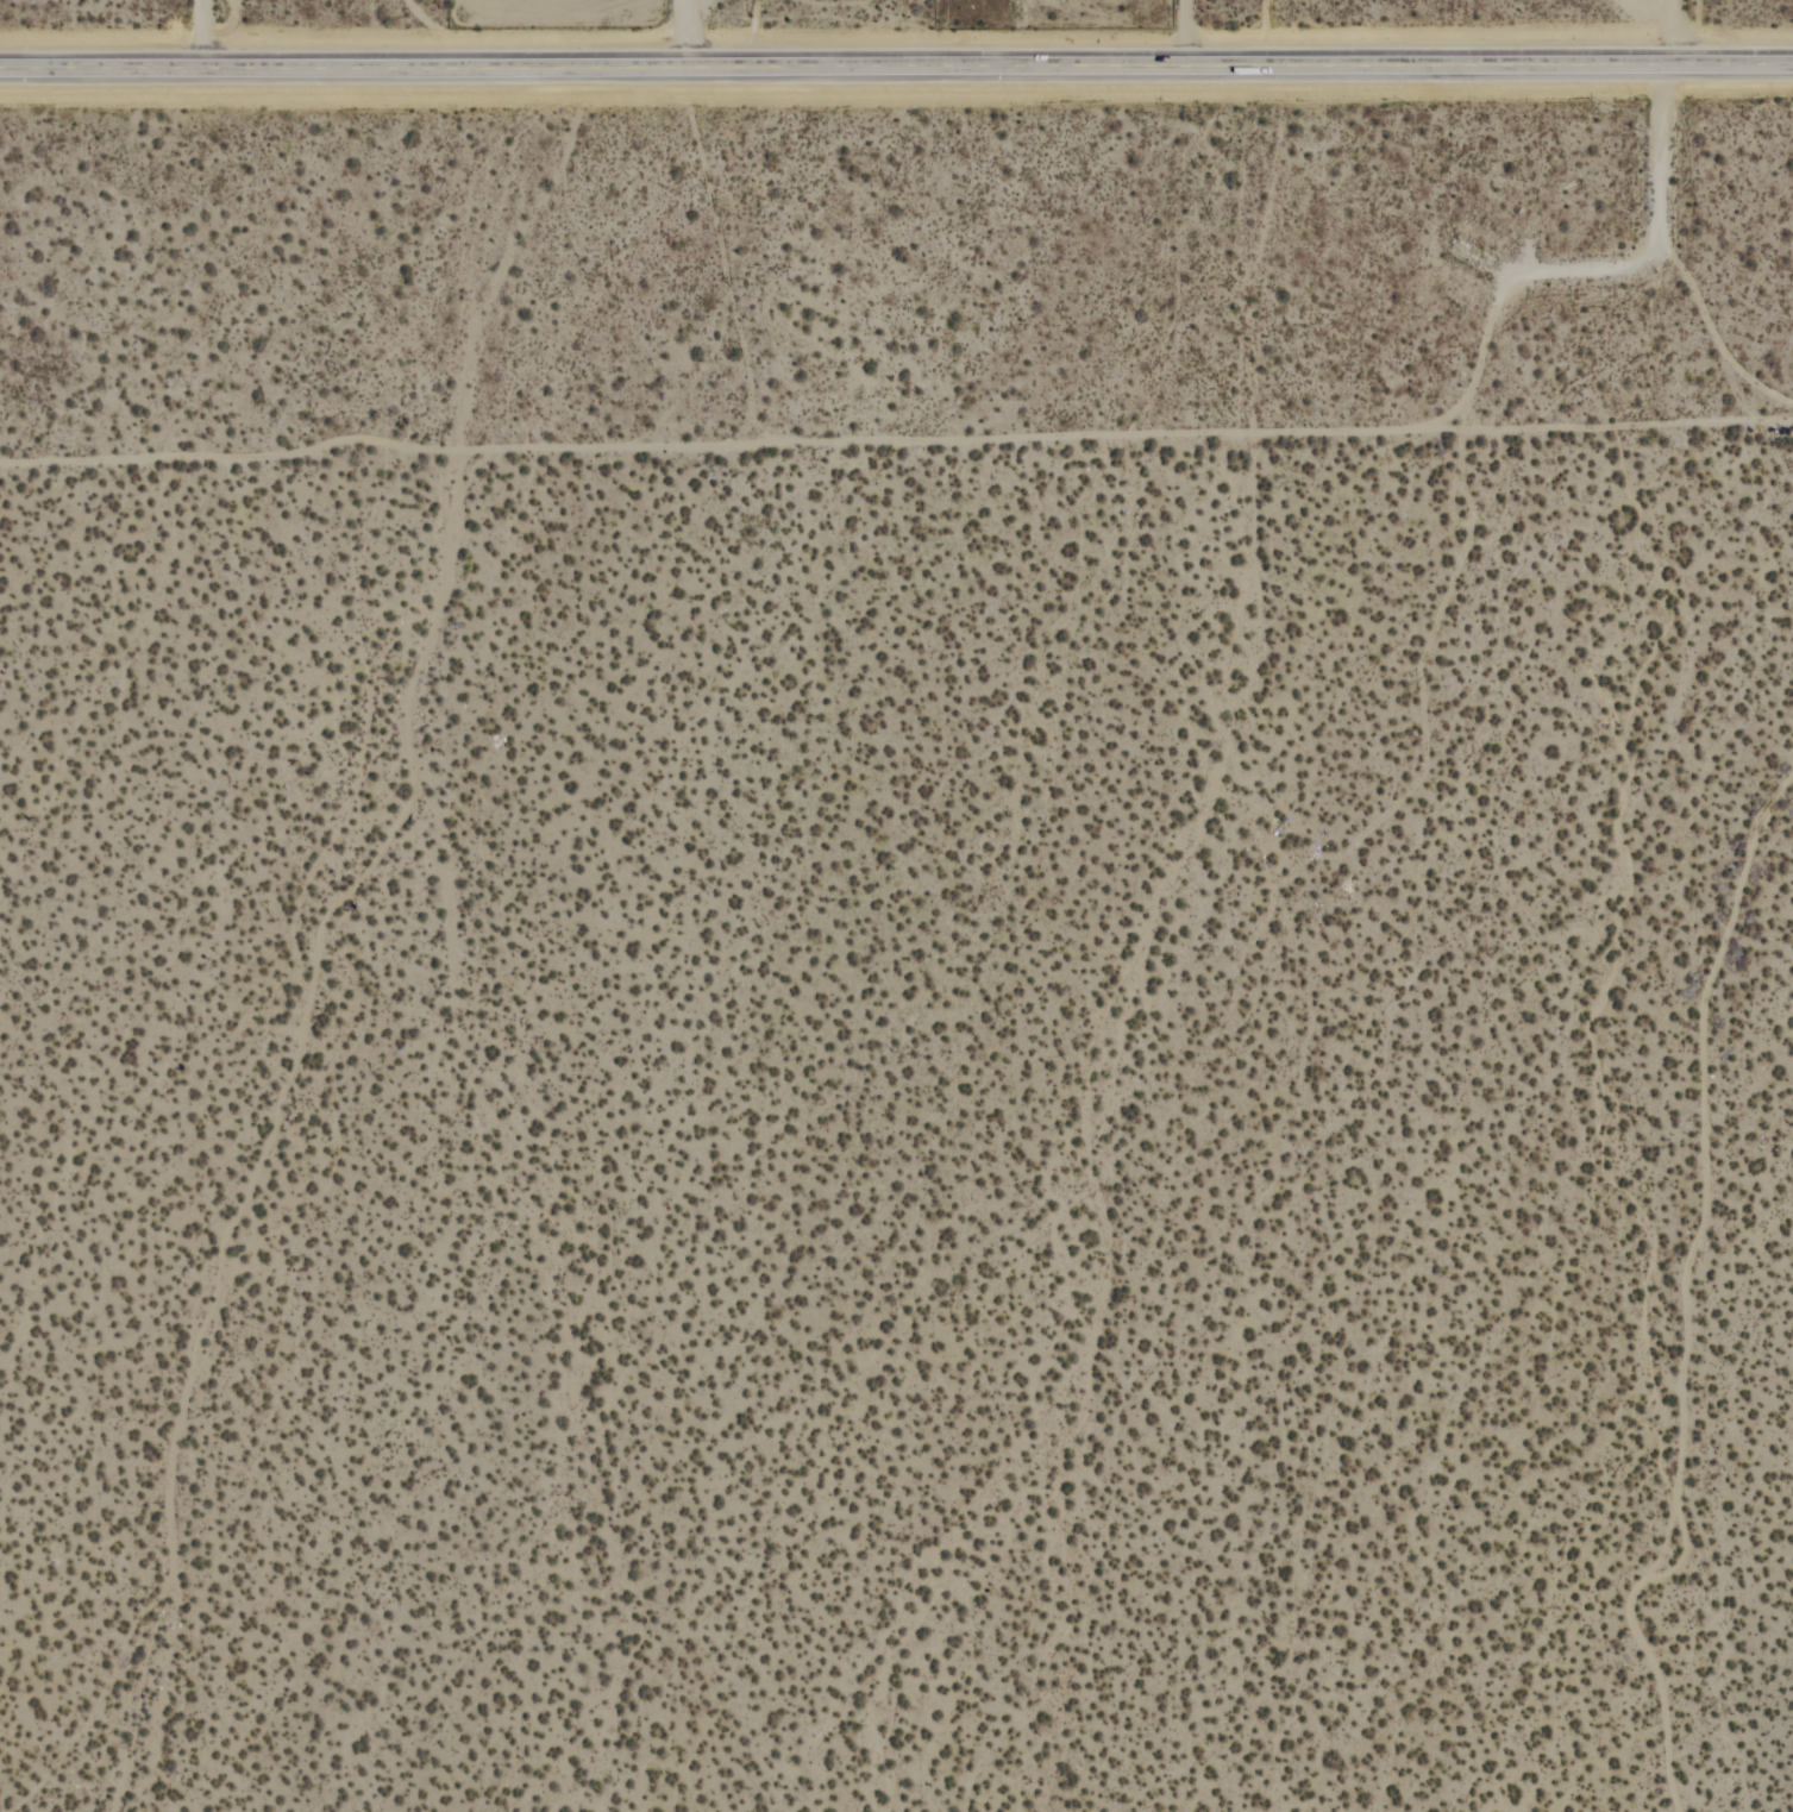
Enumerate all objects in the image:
road: (685, 31)
road: (1021, 31)
road: (1672, 31)
road: (200, 33)
road: (540, 33)
road: (896, 63)

